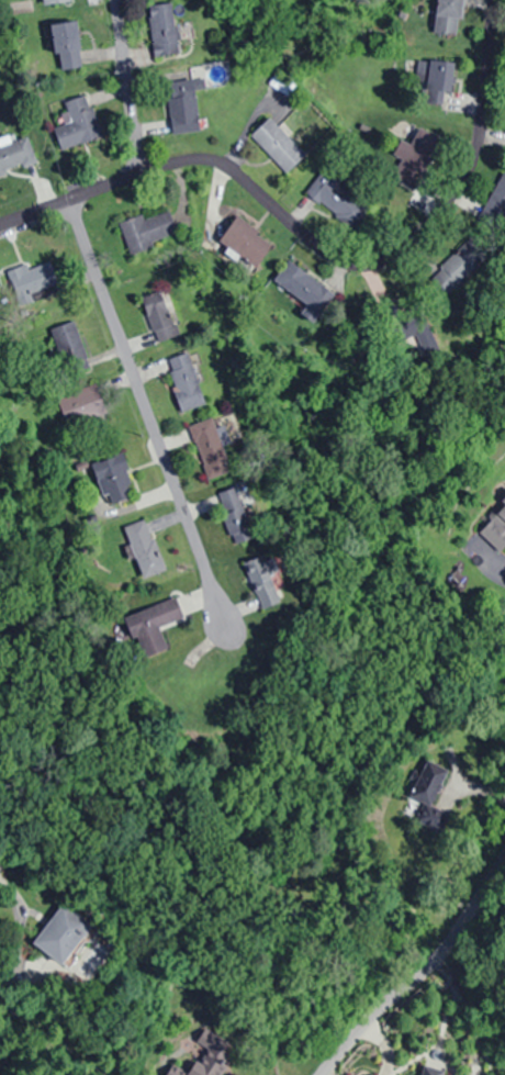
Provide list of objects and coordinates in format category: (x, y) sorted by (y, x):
building: (54, 1)
building: (447, 16)
building: (164, 29)
building: (67, 45)
building: (433, 74)
road: (126, 86)
building: (183, 107)
building: (78, 122)
building: (278, 145)
building: (15, 154)
building: (417, 157)
building: (336, 198)
building: (497, 201)
building: (149, 229)
building: (245, 242)
road: (319, 247)
building: (31, 280)
building: (304, 290)
building: (159, 316)
building: (68, 345)
building: (186, 380)
building: (81, 404)
road: (146, 418)
building: (211, 447)
building: (114, 479)
building: (239, 514)
building: (496, 525)
building: (144, 549)
building: (263, 580)
building: (156, 624)
building: (63, 934)
road: (419, 971)
building: (207, 1059)
building: (429, 1073)

